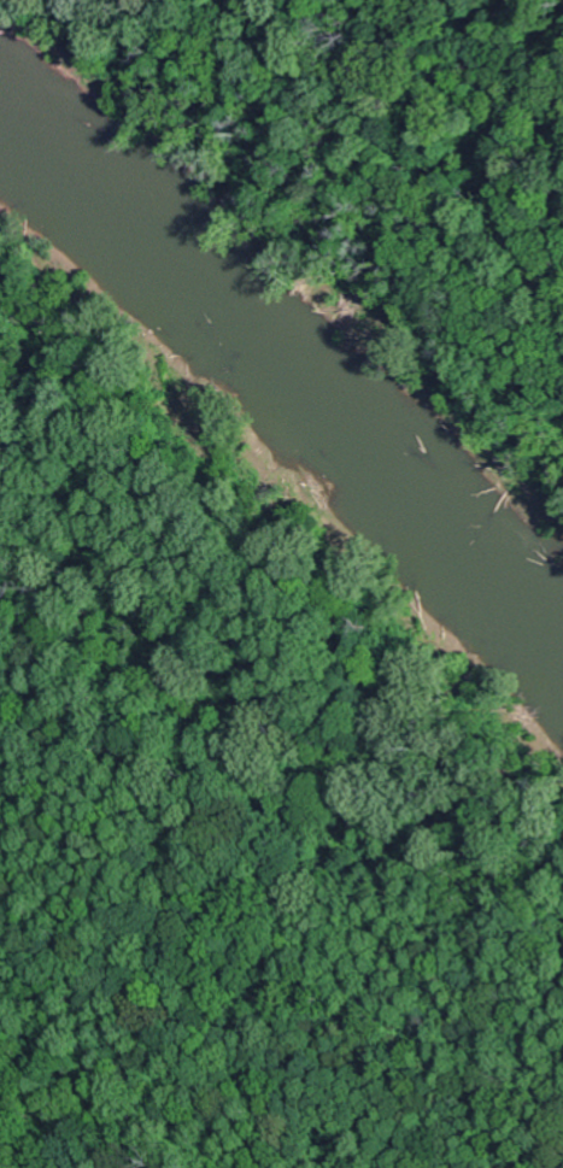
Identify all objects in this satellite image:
river: (292, 287)

